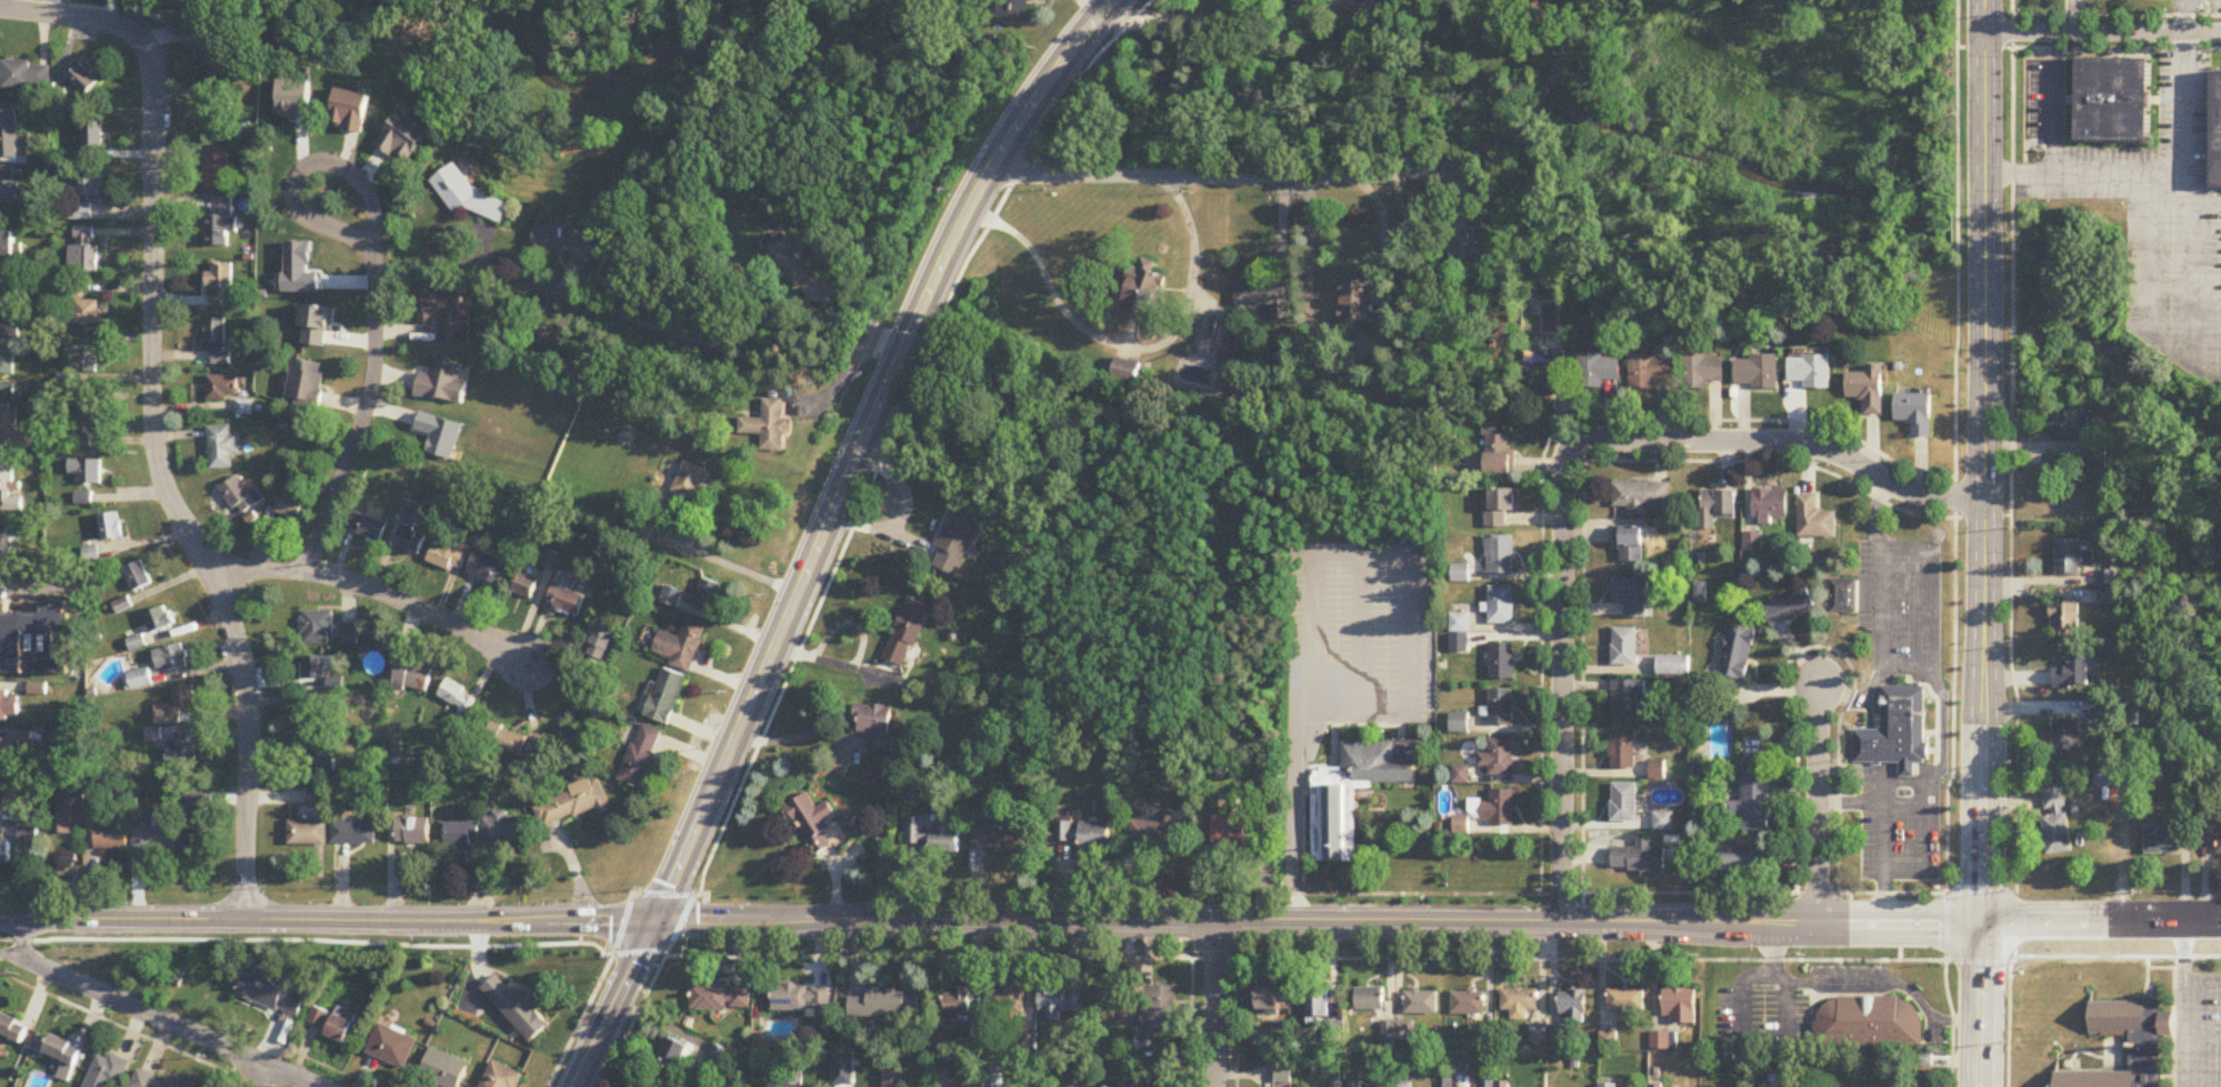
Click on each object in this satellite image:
building: (1291, 0)
building: (1016, 10)
road: (2117, 13)
building: (1538, 14)
road: (2073, 16)
road: (2184, 16)
road: (2103, 31)
road: (2089, 47)
building: (218, 58)
road: (1555, 69)
building: (26, 77)
building: (82, 80)
road: (2064, 97)
parking lot: (2032, 98)
building: (2110, 98)
road: (2164, 99)
road: (1541, 102)
building: (219, 112)
road: (2053, 115)
building: (2213, 123)
building: (92, 137)
building: (11, 140)
road: (1498, 141)
building: (217, 167)
road: (2148, 173)
road: (1229, 175)
building: (89, 183)
road: (2149, 188)
building: (466, 191)
building: (9, 197)
road: (2184, 203)
building: (80, 212)
building: (220, 222)
building: (563, 241)
building: (7, 245)
building: (83, 252)
building: (1470, 252)
building: (792, 262)
road: (377, 283)
road: (2193, 284)
building: (220, 286)
building: (1142, 293)
building: (1268, 295)
building: (1359, 302)
building: (7, 303)
building: (83, 306)
road: (2147, 313)
building: (446, 316)
building: (1210, 326)
building: (544, 335)
building: (219, 341)
road: (1130, 348)
building: (7, 362)
building: (83, 362)
road: (738, 362)
building: (1550, 369)
building: (1599, 371)
building: (1651, 371)
building: (1703, 371)
building: (1811, 371)
building: (1758, 372)
building: (443, 381)
building: (306, 383)
building: (223, 388)
building: (1869, 389)
building: (244, 407)
road: (156, 412)
building: (1915, 412)
building: (88, 417)
building: (770, 425)
building: (2071, 425)
building: (12, 427)
building: (223, 447)
building: (2097, 453)
building: (1499, 454)
road: (881, 460)
road: (1983, 462)
building: (86, 471)
road: (1565, 472)
building: (691, 481)
building: (10, 490)
building: (237, 497)
building: (1641, 497)
building: (292, 500)
building: (1498, 506)
building: (1769, 506)
building: (1715, 507)
building: (1814, 520)
building: (110, 526)
building: (368, 527)
road: (822, 531)
building: (9, 540)
building: (411, 541)
building: (958, 541)
building: (1630, 543)
building: (1752, 543)
road: (1953, 544)
road: (2011, 544)
building: (448, 554)
road: (1359, 554)
building: (1501, 554)
building: (2071, 557)
road: (730, 560)
building: (488, 567)
building: (1461, 573)
building: (137, 576)
building: (524, 585)
building: (2109, 587)
road: (378, 591)
building: (707, 595)
building: (671, 596)
building: (1632, 596)
building: (1845, 596)
building: (566, 600)
building: (1502, 605)
building: (1789, 607)
building: (159, 620)
building: (2064, 621)
building: (317, 628)
building: (908, 633)
road: (1361, 634)
building: (349, 635)
building: (36, 640)
building: (599, 642)
building: (682, 645)
road: (1819, 645)
building: (1625, 646)
building: (1737, 653)
building: (170, 658)
building: (1502, 661)
building: (1674, 665)
road: (1891, 666)
building: (314, 667)
building: (411, 675)
building: (2073, 675)
building: (139, 681)
building: (666, 696)
building: (457, 698)
building: (1628, 699)
building: (176, 706)
building: (1501, 707)
building: (318, 715)
building: (1459, 723)
building: (873, 724)
building: (1893, 729)
road: (791, 736)
building: (2067, 736)
building: (510, 742)
building: (181, 748)
building: (1623, 749)
road: (1940, 749)
building: (6, 754)
building: (319, 755)
building: (641, 756)
building: (1499, 757)
road: (1294, 765)
building: (1355, 793)
building: (2, 794)
building: (318, 797)
building: (1752, 798)
building: (1624, 802)
building: (572, 804)
road: (1818, 804)
building: (68, 809)
building: (98, 811)
building: (1488, 811)
building: (193, 819)
building: (1663, 821)
building: (2057, 822)
building: (816, 823)
building: (503, 828)
building: (1159, 829)
building: (1233, 829)
road: (1882, 829)
building: (412, 831)
building: (353, 832)
building: (1063, 832)
building: (308, 833)
building: (2211, 833)
building: (461, 834)
building: (932, 835)
building: (1094, 835)
building: (111, 836)
building: (154, 837)
building: (1000, 837)
building: (2161, 841)
building: (6, 852)
building: (1638, 857)
building: (1741, 859)
road: (1648, 892)
road: (909, 917)
traffic signals: (653, 918)
road: (2100, 923)
road: (1899, 924)
traffic signals: (1981, 924)
road: (1279, 957)
road: (592, 990)
road: (646, 990)
building: (267, 992)
road: (2172, 992)
building: (720, 998)
building: (793, 998)
building: (1268, 999)
building: (1369, 999)
building: (1625, 1000)
road: (124, 1002)
building: (1008, 1002)
road: (1213, 1002)
building: (1520, 1002)
building: (1063, 1003)
building: (1467, 1003)
building: (887, 1004)
building: (959, 1004)
building: (1111, 1004)
building: (1420, 1004)
building: (1573, 1005)
road: (1979, 1005)
road: (2182, 1005)
building: (1318, 1006)
building: (1679, 1006)
building: (1162, 1007)
building: (516, 1009)
building: (318, 1018)
road: (1190, 1021)
road: (1237, 1021)
building: (1869, 1023)
building: (341, 1025)
building: (12, 1028)
building: (1538, 1034)
building: (1607, 1039)
building: (1662, 1041)
building: (391, 1046)
building: (2145, 1054)
building: (63, 1055)
building: (673, 1056)
building: (443, 1069)
building: (106, 1071)
building: (1279, 1073)
road: (253, 1074)
road: (289, 1074)
building: (501, 1077)
building: (942, 1077)
building: (159, 1080)
building: (1495, 1084)
building: (1403, 1085)
building: (1608, 1086)

